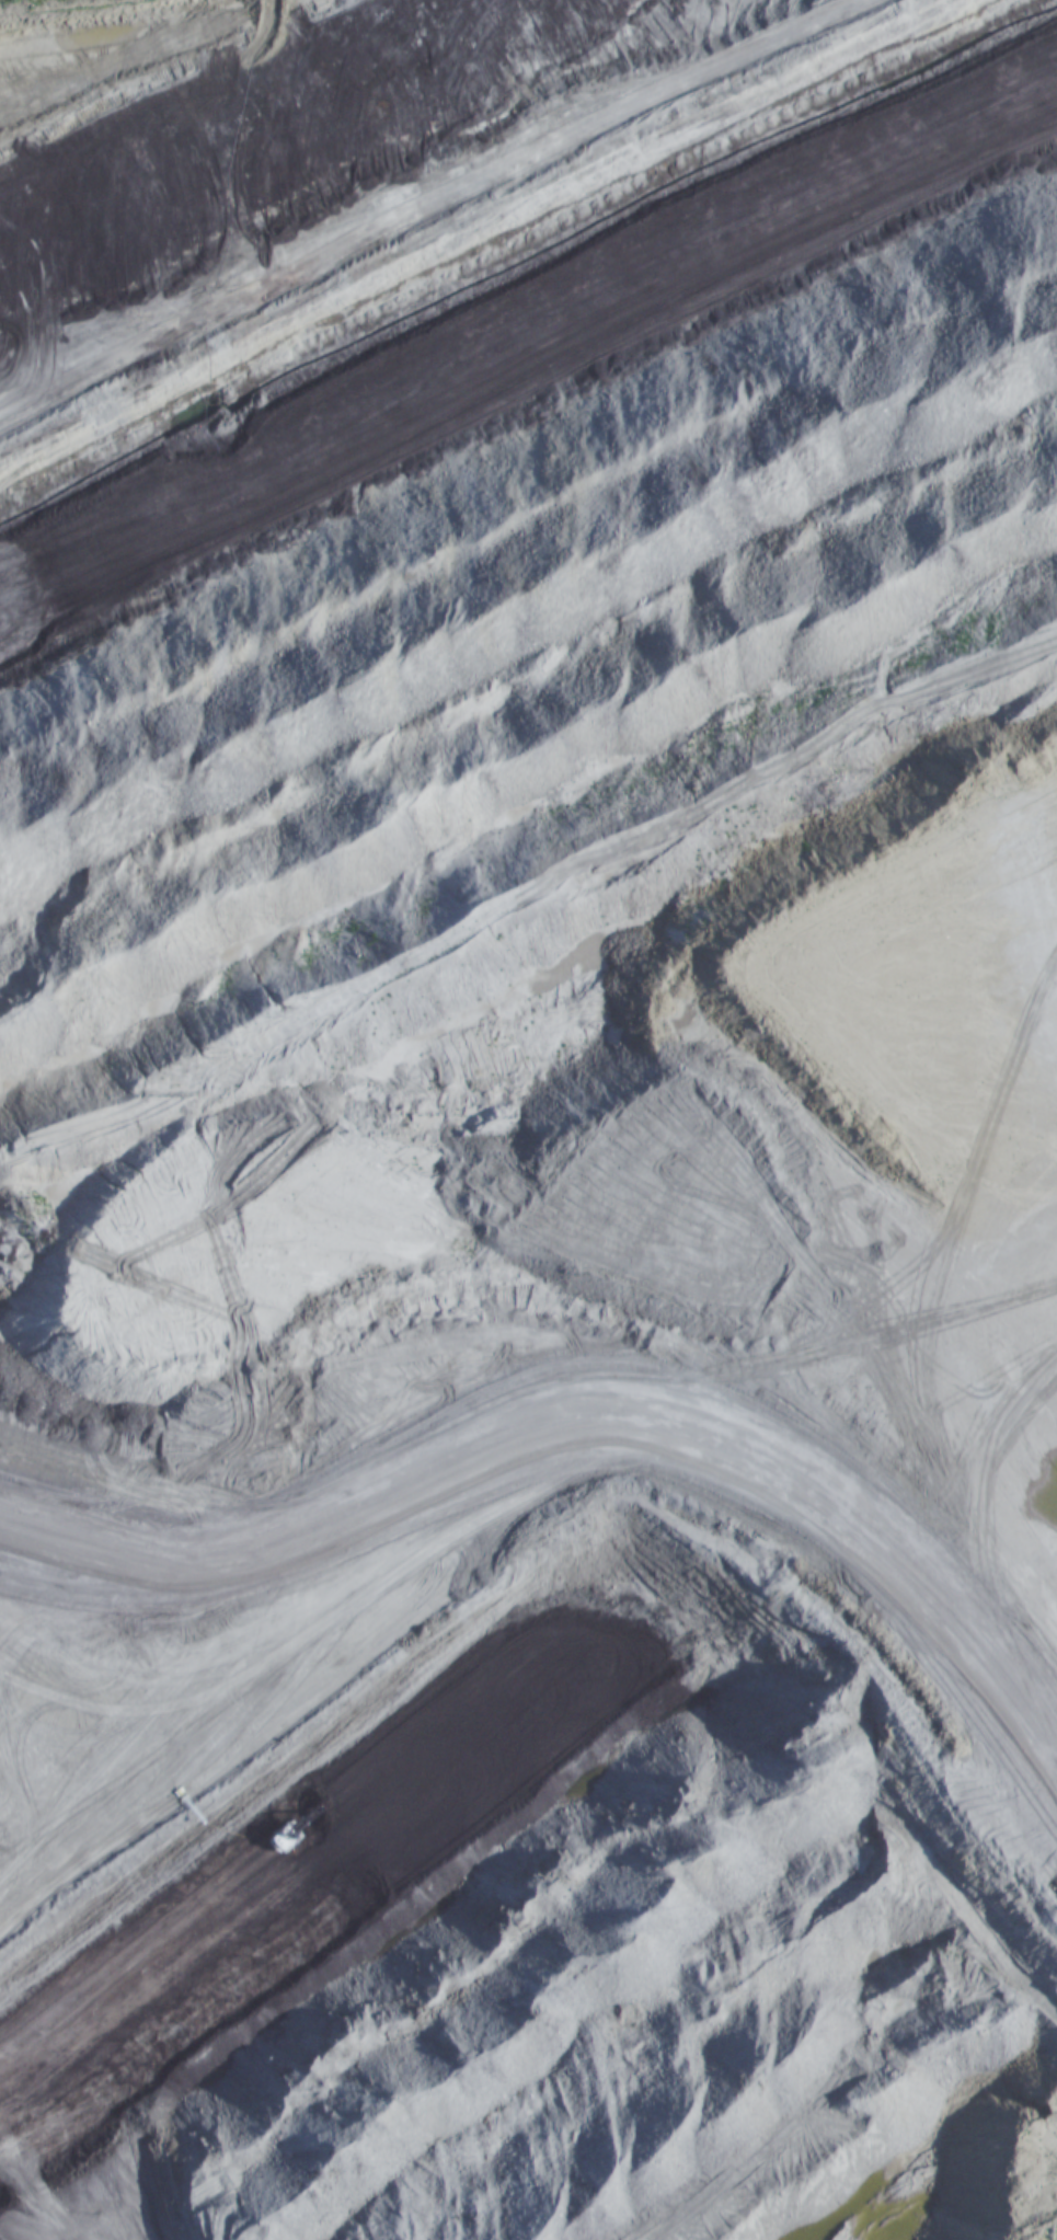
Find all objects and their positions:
road: (528, 18)
road: (297, 205)
building: (307, 378)

